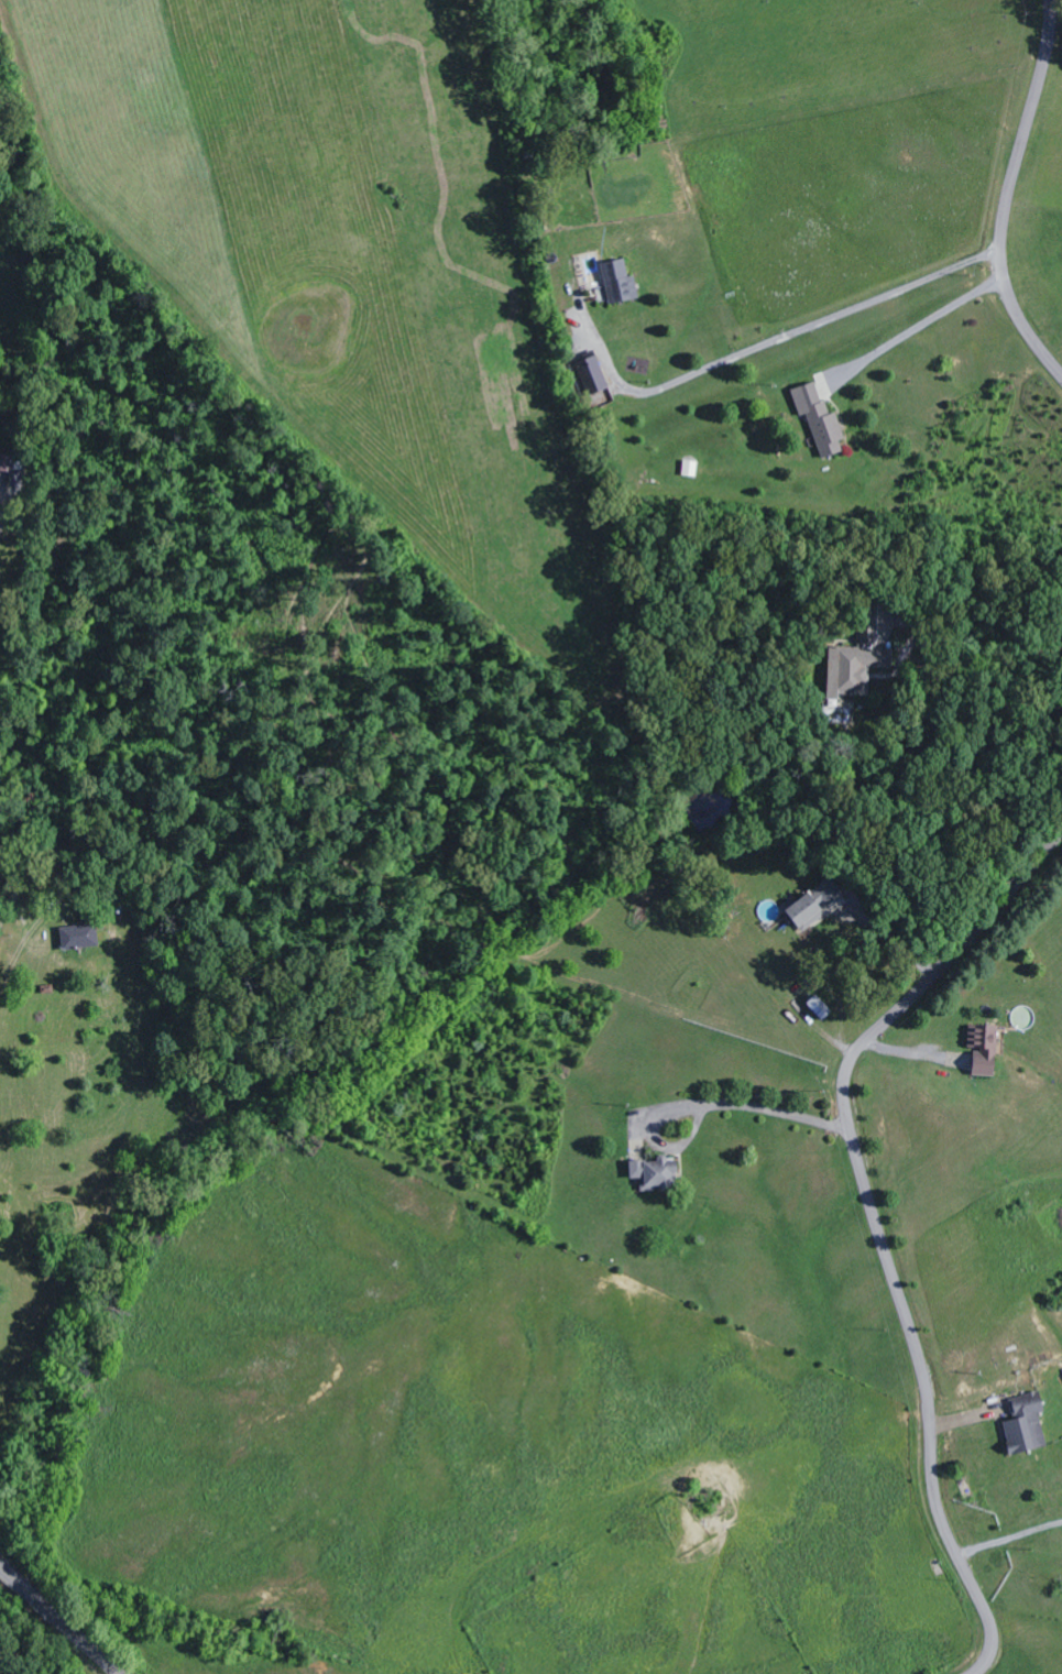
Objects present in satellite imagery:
road: (1011, 193)
building: (621, 283)
road: (811, 327)
road: (918, 328)
building: (594, 375)
building: (821, 420)
building: (9, 463)
building: (690, 469)
building: (864, 653)
building: (817, 905)
building: (80, 938)
building: (821, 1009)
building: (985, 1050)
building: (657, 1174)
road: (876, 1223)
building: (1027, 1424)
road: (59, 1620)

